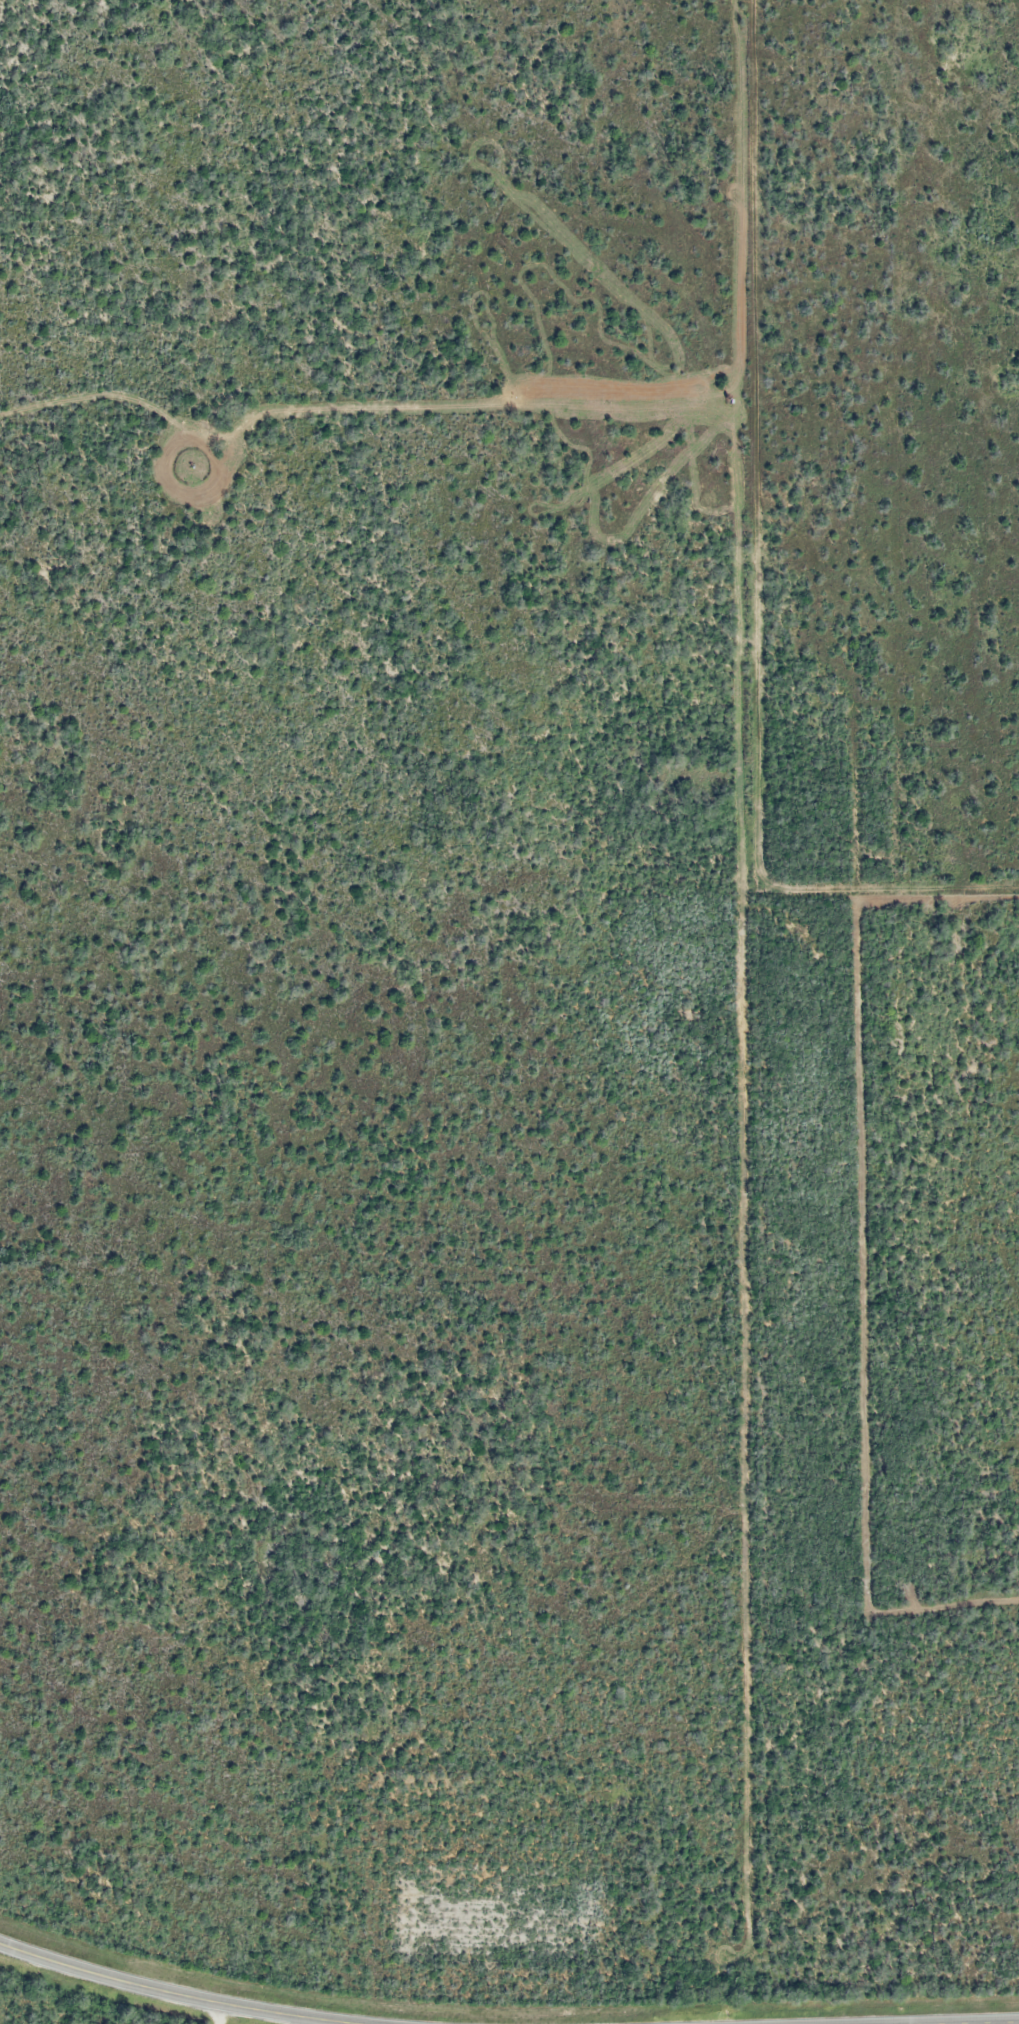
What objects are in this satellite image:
road: (180, 1993)
road: (960, 2022)
road: (344, 2023)

